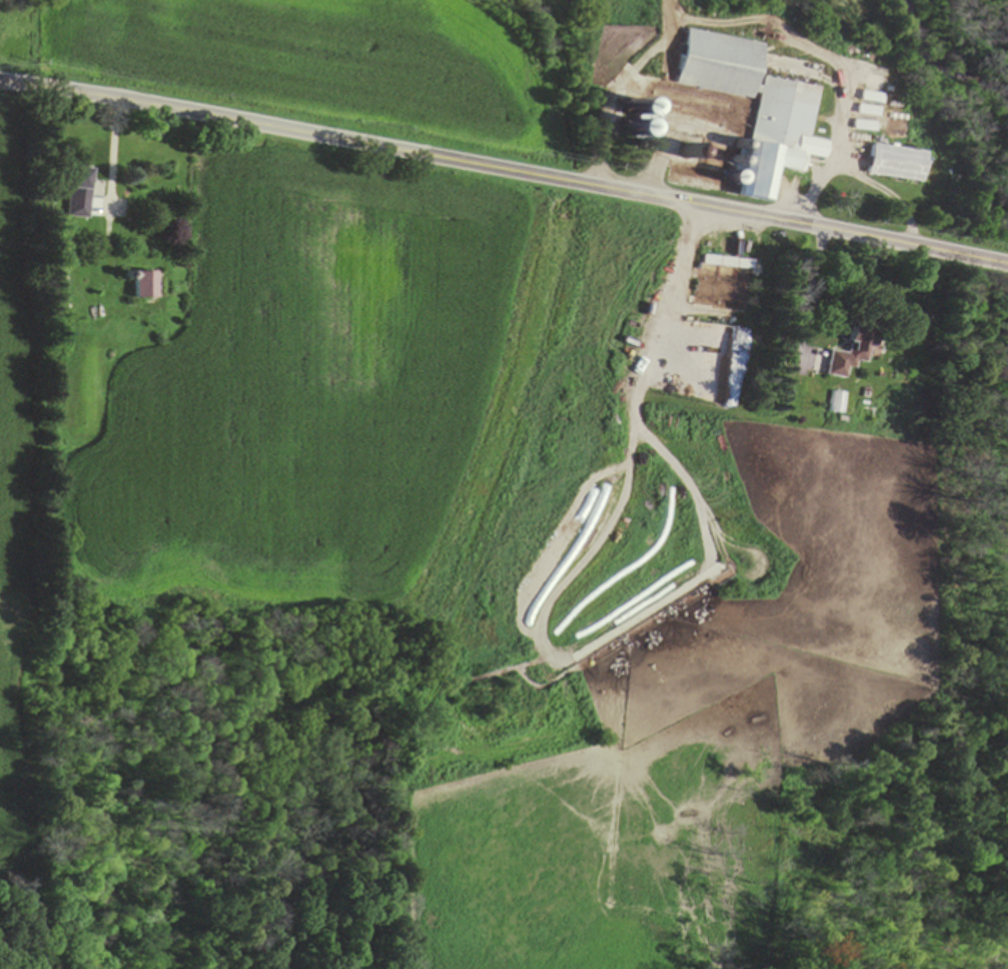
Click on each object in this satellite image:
building: (756, 106)
building: (643, 122)
building: (898, 162)
road: (504, 169)
building: (81, 191)
building: (721, 261)
building: (146, 284)
building: (850, 352)
building: (492, 963)

